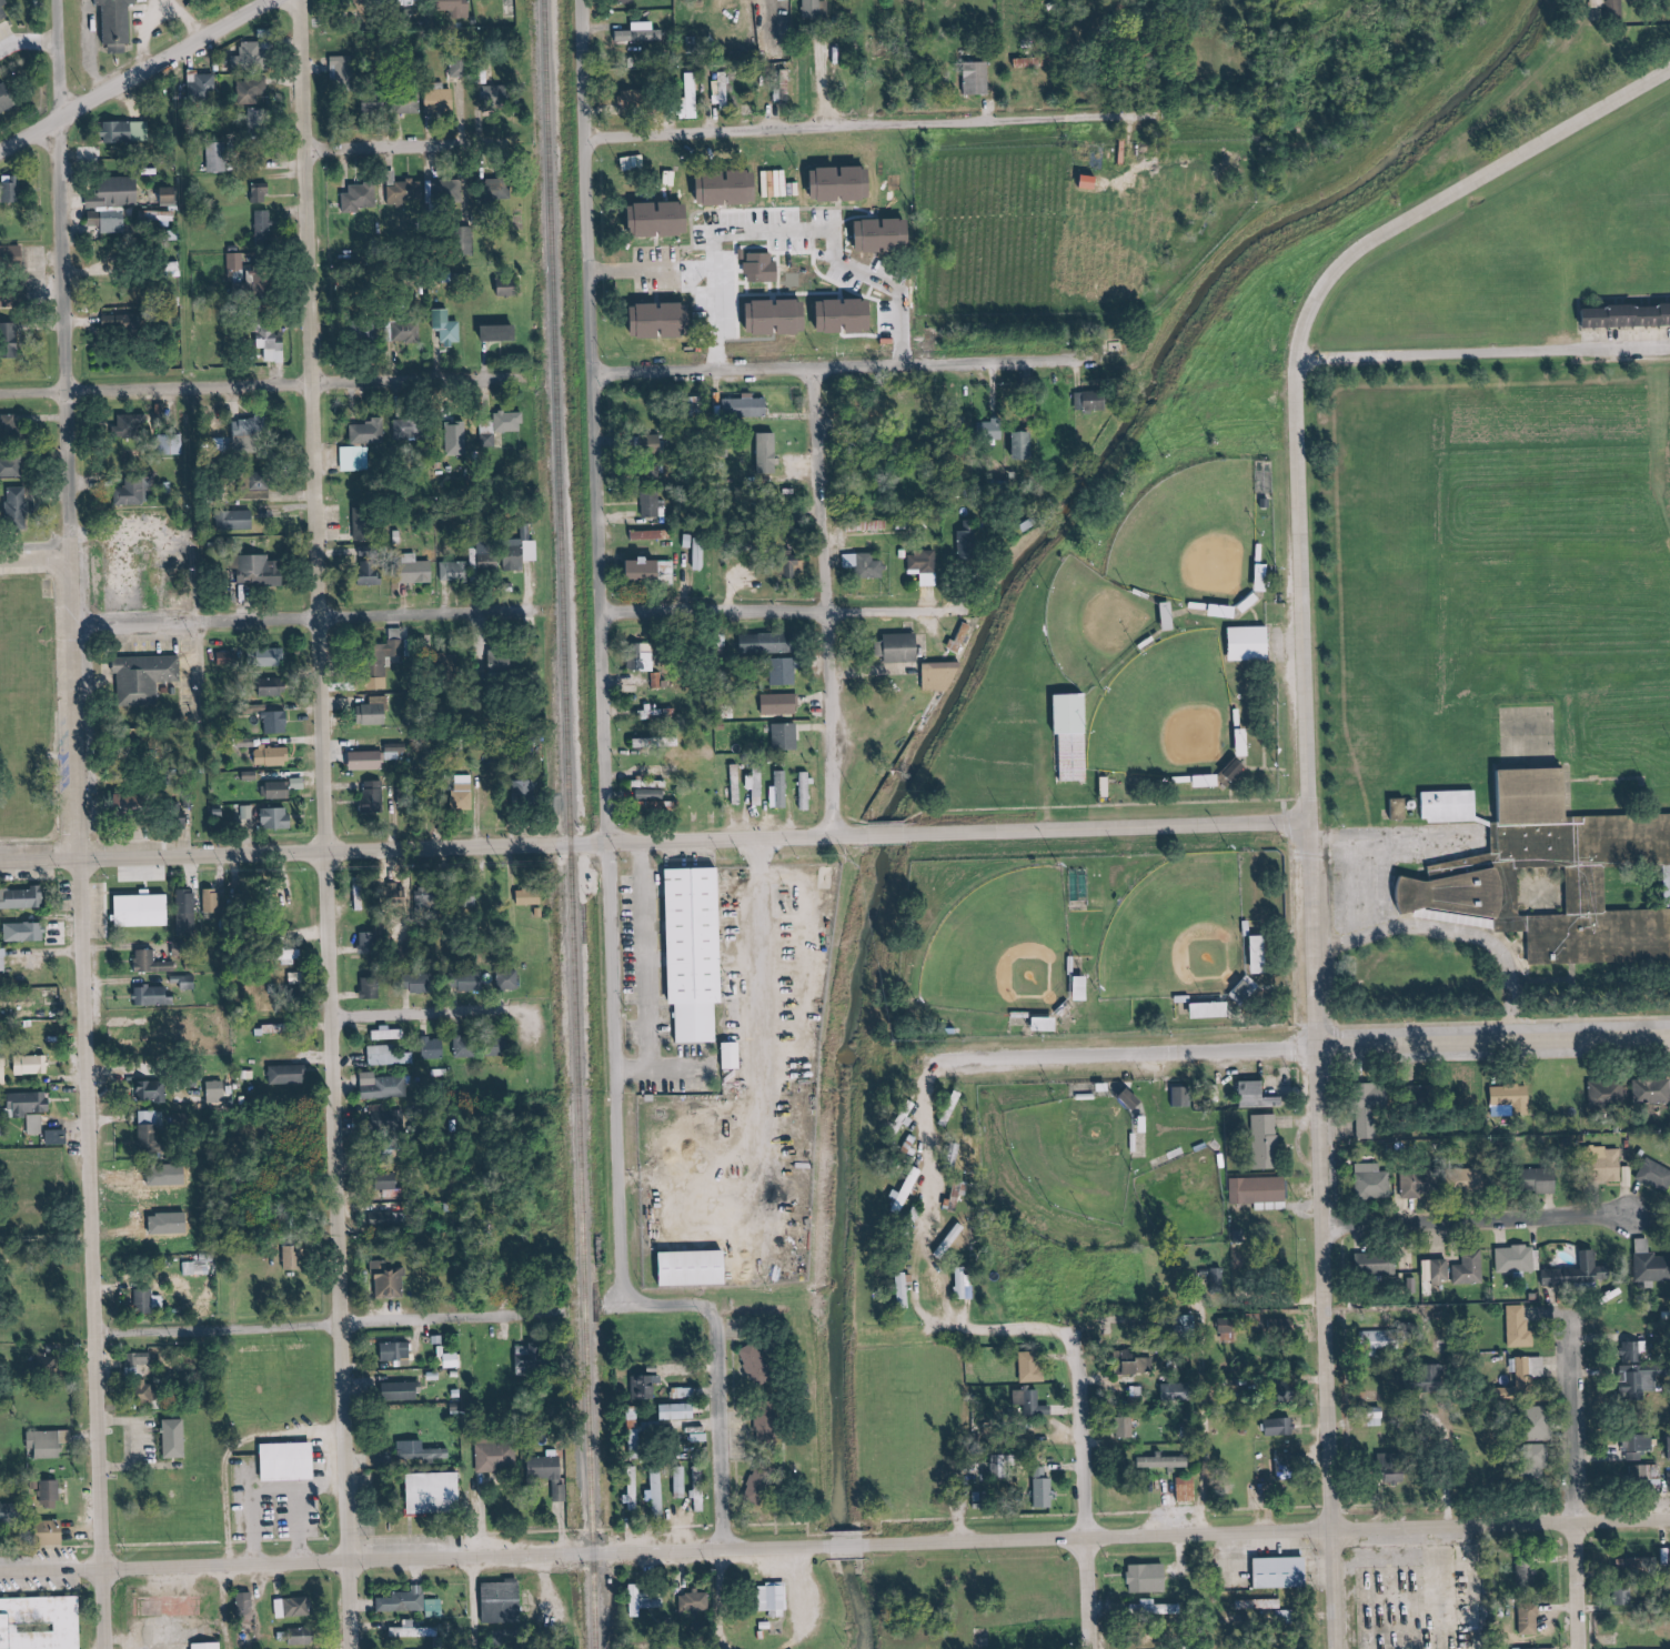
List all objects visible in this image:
building: (627, 1)
building: (366, 3)
building: (456, 8)
building: (1617, 8)
building: (7, 9)
building: (816, 9)
road: (167, 17)
building: (127, 23)
building: (643, 34)
road: (30, 43)
road: (98, 46)
building: (251, 54)
road: (63, 57)
building: (343, 68)
road: (133, 74)
building: (978, 79)
building: (204, 87)
building: (252, 91)
building: (493, 92)
building: (691, 95)
building: (10, 98)
building: (631, 98)
building: (441, 101)
building: (378, 103)
building: (411, 104)
road: (869, 124)
building: (127, 132)
road: (372, 143)
building: (220, 157)
building: (845, 183)
building: (734, 188)
building: (450, 189)
building: (22, 191)
building: (119, 192)
building: (406, 193)
building: (171, 194)
building: (261, 194)
building: (362, 199)
building: (0, 202)
road: (807, 211)
building: (664, 218)
building: (110, 221)
building: (264, 225)
building: (886, 233)
building: (239, 261)
building: (758, 267)
road: (652, 268)
building: (18, 276)
building: (244, 286)
building: (507, 286)
building: (781, 315)
building: (1627, 316)
building: (667, 320)
building: (124, 322)
building: (447, 328)
building: (409, 332)
building: (501, 332)
building: (17, 340)
building: (272, 346)
road: (1490, 353)
road: (846, 360)
road: (262, 380)
building: (1093, 401)
building: (747, 406)
building: (510, 422)
building: (131, 423)
building: (10, 424)
building: (408, 431)
building: (366, 432)
building: (250, 434)
building: (459, 438)
building: (487, 438)
building: (769, 453)
building: (354, 459)
building: (754, 459)
building: (10, 466)
building: (261, 486)
building: (134, 492)
building: (11, 505)
building: (652, 507)
building: (241, 520)
building: (364, 527)
park: (1210, 537)
building: (967, 545)
building: (509, 555)
road: (39, 561)
building: (923, 562)
building: (866, 564)
building: (258, 570)
building: (647, 570)
building: (454, 571)
building: (413, 573)
building: (375, 576)
building: (182, 580)
road: (832, 596)
road: (173, 606)
road: (769, 606)
road: (305, 615)
park: (1108, 622)
building: (396, 642)
building: (1252, 642)
building: (766, 643)
building: (905, 647)
building: (268, 657)
building: (230, 658)
building: (500, 662)
building: (648, 662)
building: (948, 664)
road: (117, 666)
building: (784, 672)
building: (154, 676)
building: (782, 704)
park: (42, 712)
building: (374, 712)
park: (1181, 714)
building: (276, 722)
building: (786, 736)
building: (1076, 736)
building: (274, 756)
building: (369, 761)
road: (1315, 766)
building: (250, 775)
building: (299, 783)
building: (757, 786)
building: (526, 788)
building: (278, 790)
building: (782, 790)
building: (807, 791)
building: (1541, 792)
building: (465, 793)
building: (197, 796)
building: (373, 796)
building: (132, 802)
building: (1458, 805)
road: (1114, 807)
building: (248, 812)
building: (276, 818)
road: (334, 824)
railway: (567, 824)
road: (199, 827)
road: (658, 839)
park: (1129, 855)
road: (613, 866)
road: (91, 881)
building: (1467, 886)
building: (1594, 888)
building: (530, 897)
building: (22, 898)
building: (213, 902)
building: (151, 908)
building: (188, 913)
building: (26, 932)
road: (1460, 933)
park: (1201, 939)
building: (371, 944)
building: (704, 946)
road: (135, 947)
park: (1025, 952)
building: (1262, 954)
building: (3, 959)
building: (153, 963)
building: (298, 977)
building: (510, 978)
building: (185, 982)
building: (473, 983)
building: (372, 986)
road: (661, 986)
building: (1249, 989)
building: (154, 996)
road: (1586, 999)
road: (527, 1006)
road: (429, 1009)
building: (1215, 1009)
building: (389, 1034)
road: (1498, 1038)
building: (466, 1048)
building: (434, 1049)
building: (393, 1055)
building: (734, 1055)
road: (1062, 1056)
building: (33, 1065)
road: (643, 1070)
building: (289, 1074)
building: (383, 1086)
building: (1652, 1089)
building: (152, 1092)
building: (218, 1092)
building: (1259, 1095)
building: (1608, 1095)
building: (1183, 1096)
building: (1513, 1097)
building: (31, 1104)
building: (385, 1116)
road: (776, 1120)
building: (36, 1125)
building: (149, 1125)
building: (56, 1137)
building: (1264, 1139)
park: (1087, 1146)
building: (1653, 1174)
building: (1476, 1176)
building: (1372, 1180)
building: (1545, 1182)
building: (1418, 1184)
building: (908, 1190)
building: (1260, 1191)
park: (1200, 1193)
building: (385, 1219)
road: (1488, 1220)
building: (1646, 1245)
building: (291, 1257)
building: (1517, 1258)
building: (1377, 1264)
building: (698, 1268)
building: (1471, 1268)
building: (1653, 1268)
building: (1429, 1269)
building: (1442, 1270)
building: (1553, 1277)
building: (391, 1281)
building: (965, 1285)
building: (904, 1288)
building: (149, 1300)
road: (343, 1323)
building: (1519, 1326)
road: (995, 1331)
building: (398, 1351)
building: (1634, 1351)
building: (535, 1359)
building: (452, 1360)
building: (138, 1363)
building: (759, 1363)
building: (1140, 1366)
building: (1033, 1368)
building: (1521, 1370)
building: (1647, 1384)
building: (1598, 1388)
building: (403, 1390)
building: (1028, 1399)
building: (680, 1410)
road: (1215, 1419)
building: (768, 1426)
building: (1128, 1426)
building: (1278, 1427)
building: (177, 1439)
building: (1639, 1444)
building: (47, 1445)
building: (1668, 1448)
building: (422, 1450)
building: (386, 1455)
building: (497, 1457)
building: (1164, 1461)
building: (281, 1462)
building: (1288, 1467)
building: (552, 1471)
road: (1093, 1474)
building: (1639, 1474)
building: (763, 1480)
building: (1668, 1480)
road: (1585, 1481)
building: (682, 1484)
building: (1045, 1487)
building: (1187, 1488)
building: (44, 1490)
building: (658, 1490)
building: (437, 1491)
building: (53, 1495)
building: (634, 1496)
building: (11, 1512)
building: (56, 1532)
road: (834, 1546)
building: (1285, 1571)
building: (1528, 1575)
building: (1149, 1578)
building: (405, 1600)
building: (645, 1600)
building: (774, 1600)
building: (503, 1601)
building: (696, 1601)
road: (487, 1602)
building: (247, 1605)
building: (294, 1606)
building: (1155, 1606)
building: (436, 1607)
building: (1530, 1621)
building: (41, 1622)
building: (416, 1631)
building: (520, 1635)
building: (303, 1636)
building: (209, 1645)
building: (1533, 1648)

